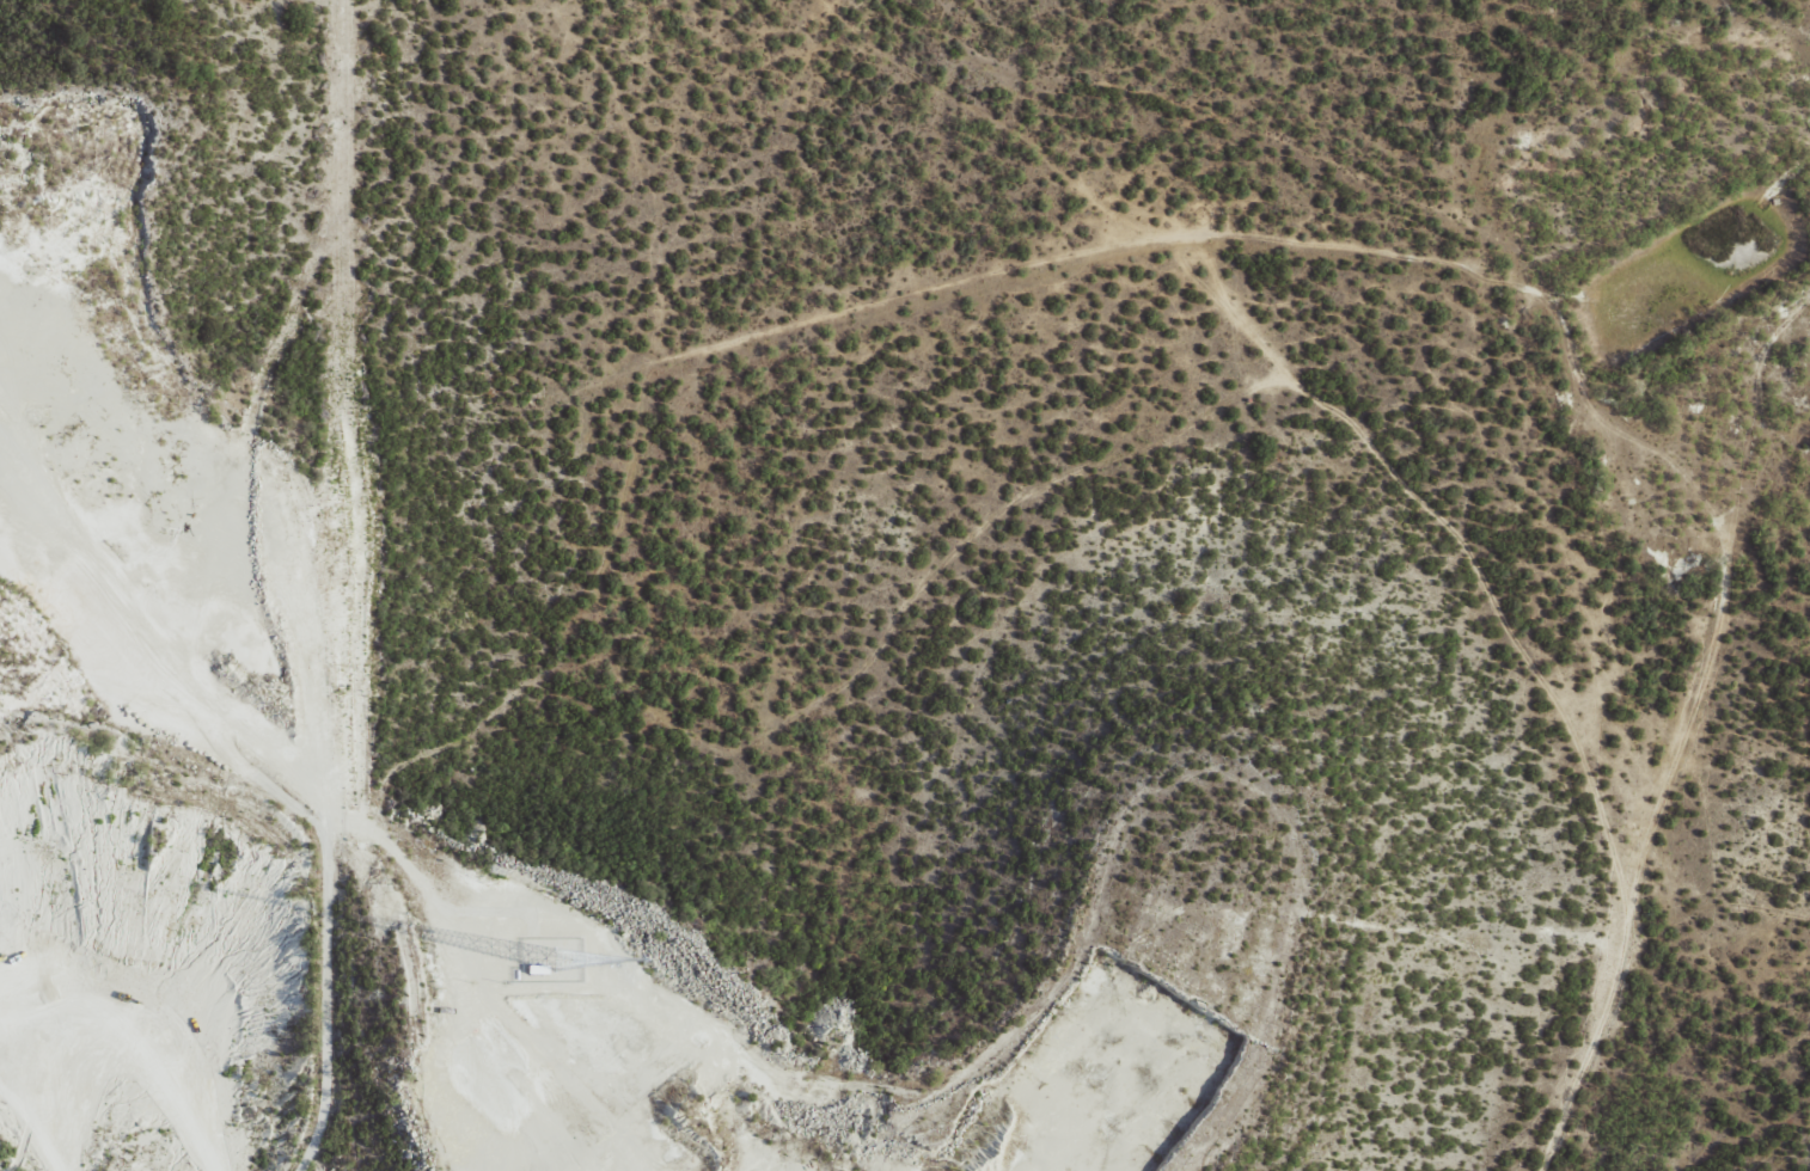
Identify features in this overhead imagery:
road: (1548, 489)

